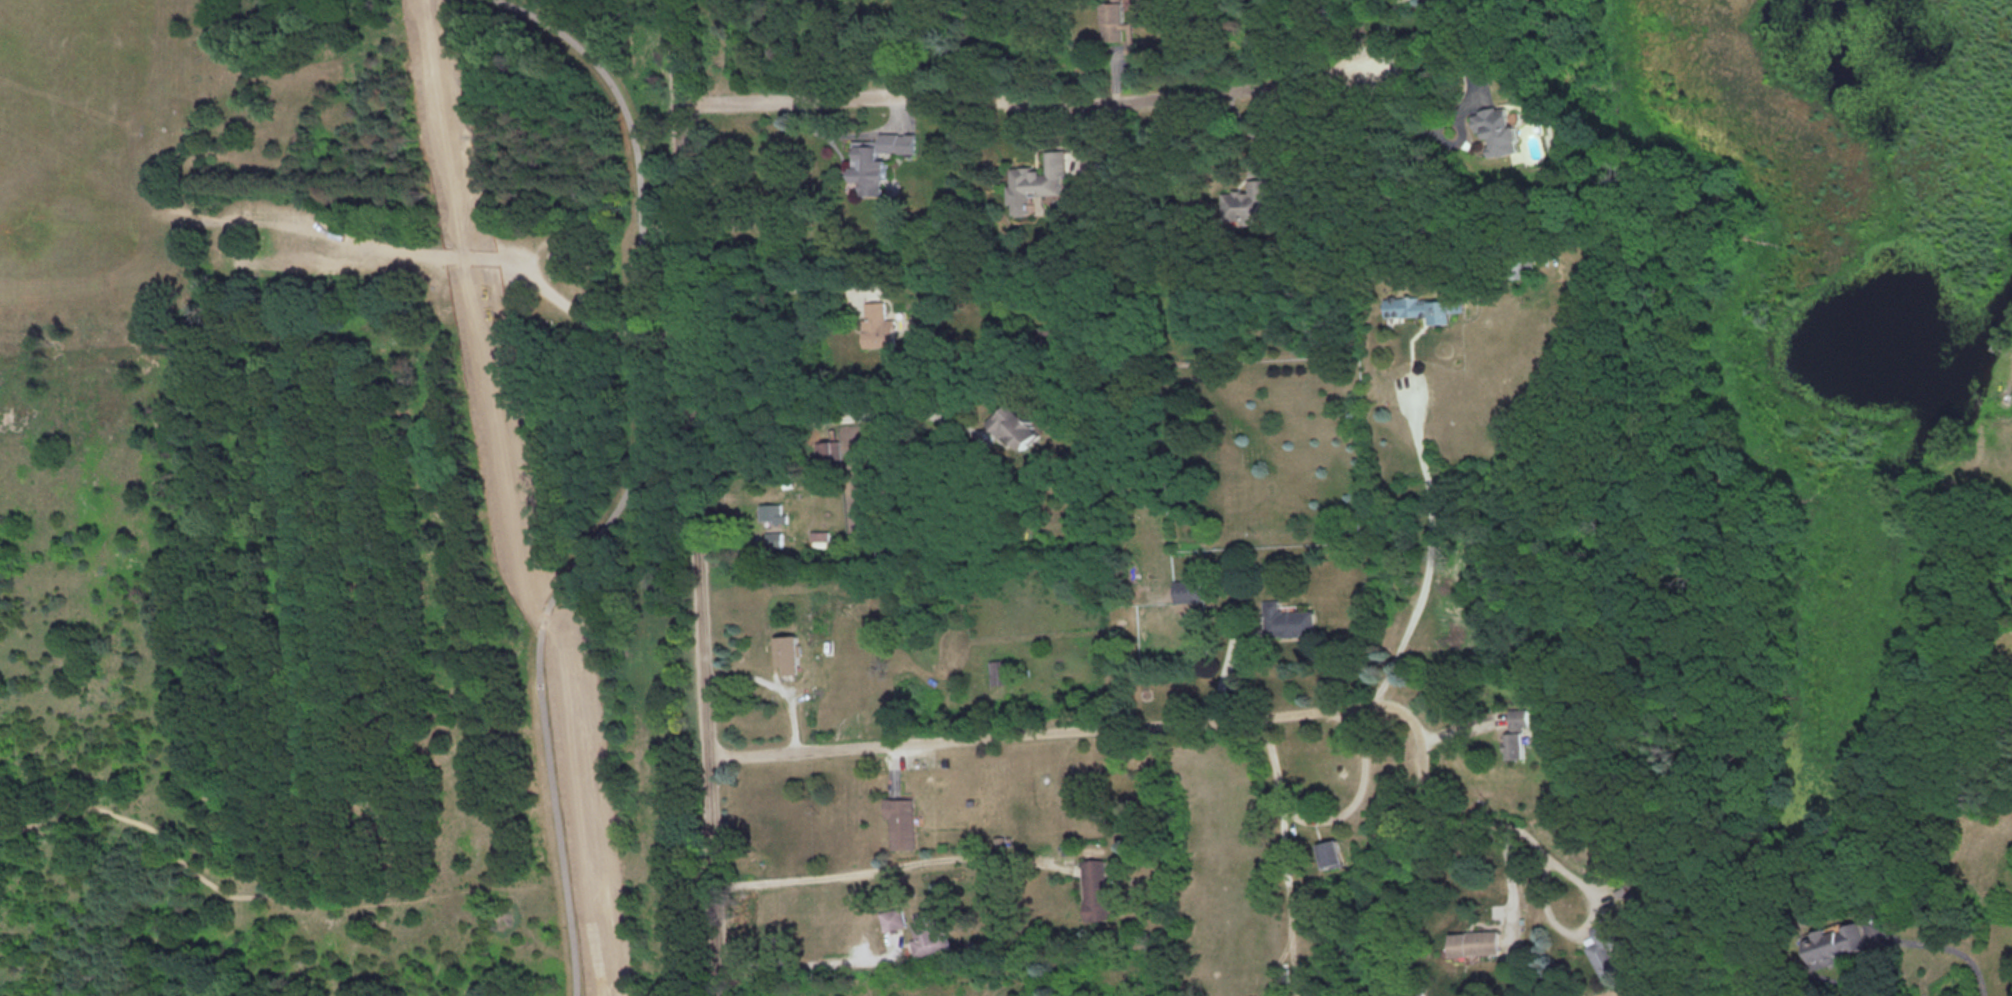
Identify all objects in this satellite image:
building: (1119, 27)
road: (1379, 33)
road: (1024, 102)
road: (1387, 125)
building: (1497, 129)
building: (877, 158)
building: (1038, 182)
building: (1247, 202)
parking lot: (501, 267)
road: (781, 289)
building: (1417, 308)
road: (571, 310)
building: (879, 325)
road: (834, 419)
building: (1015, 426)
road: (630, 479)
road: (694, 498)
park: (348, 503)
building: (772, 512)
building: (820, 537)
building: (774, 539)
road: (1429, 553)
building: (1189, 590)
building: (1289, 621)
building: (789, 653)
road: (1228, 660)
building: (999, 671)
road: (1146, 724)
building: (1517, 733)
road: (1328, 817)
building: (903, 820)
building: (1330, 853)
road: (883, 865)
road: (1509, 886)
building: (1095, 888)
road: (1593, 899)
building: (893, 917)
building: (926, 935)
building: (1474, 942)
building: (1835, 944)
building: (1605, 949)
road: (805, 968)

